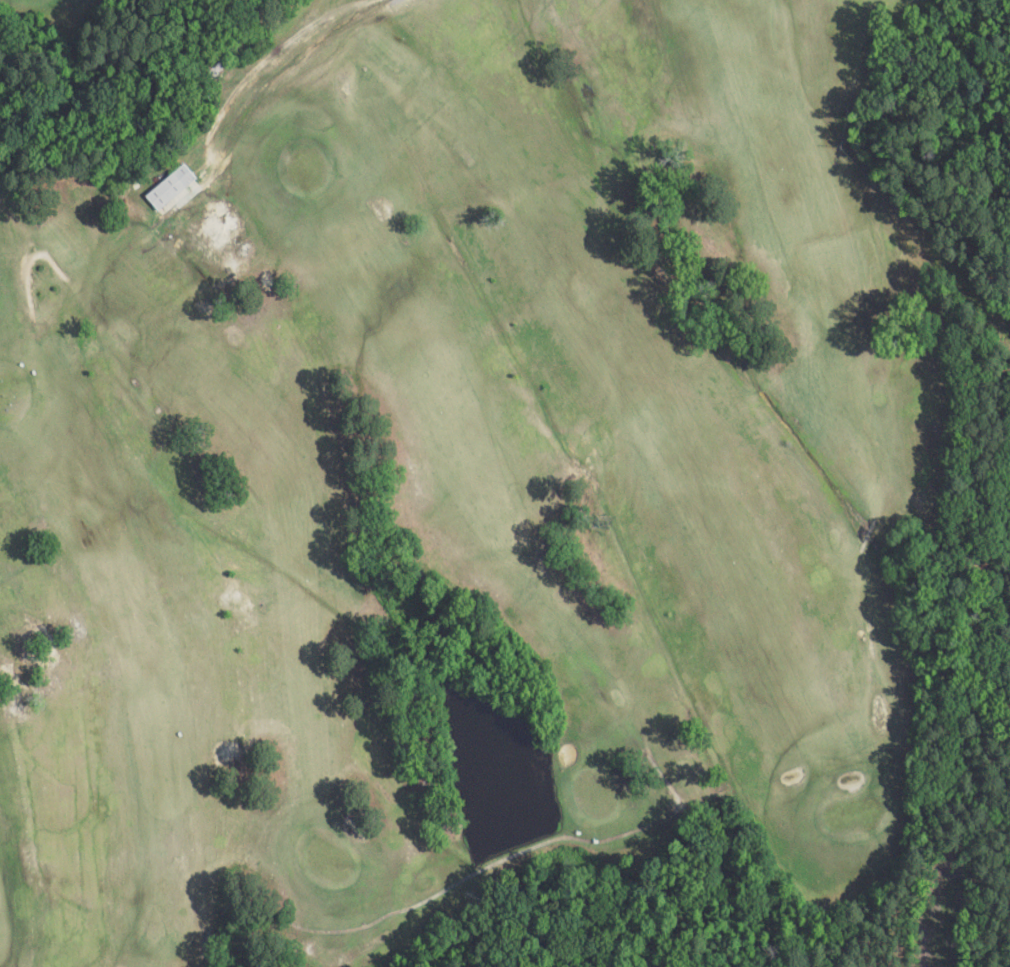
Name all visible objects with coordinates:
building: (216, 64)
building: (166, 186)

